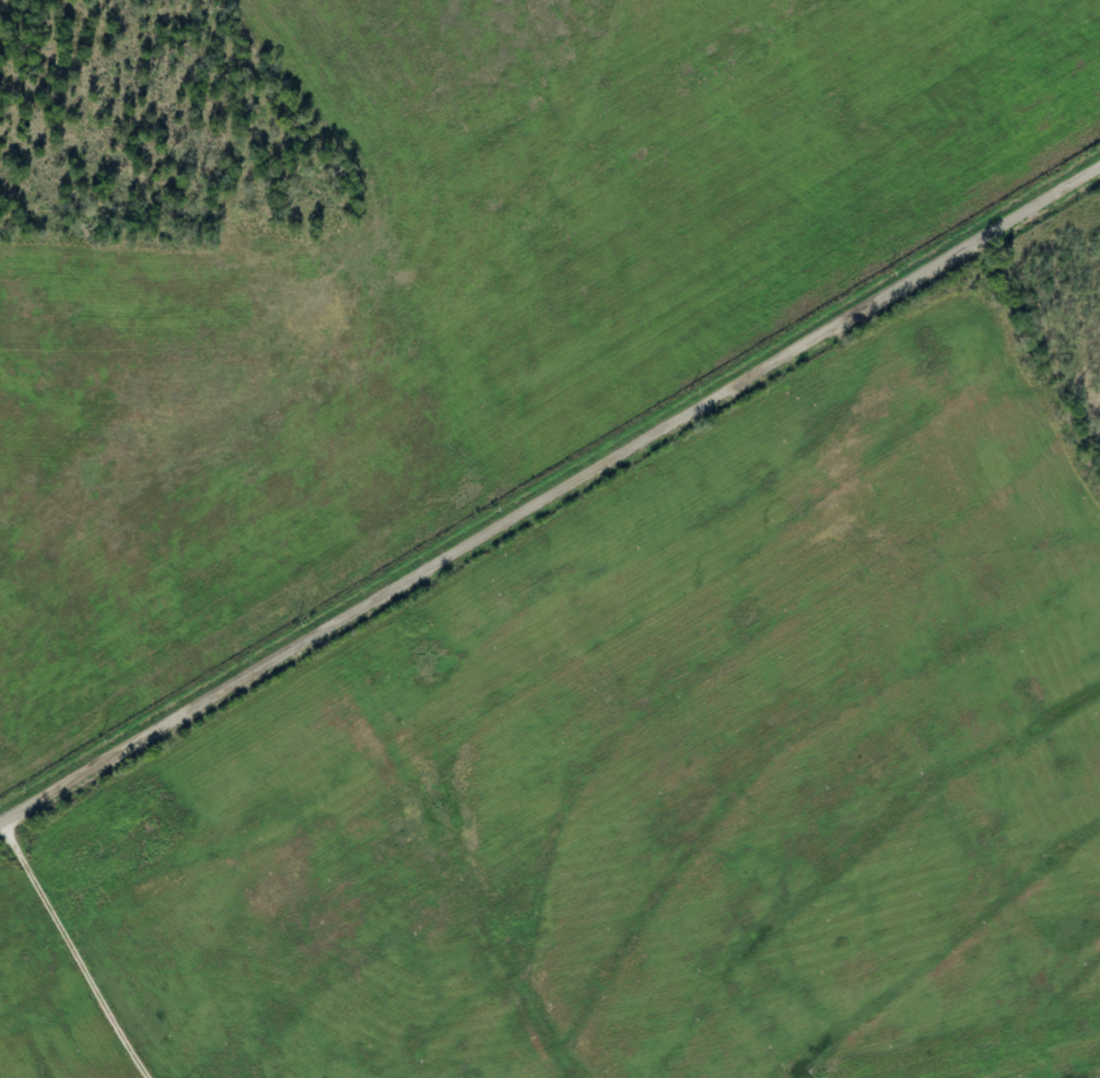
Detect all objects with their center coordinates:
road: (549, 501)

